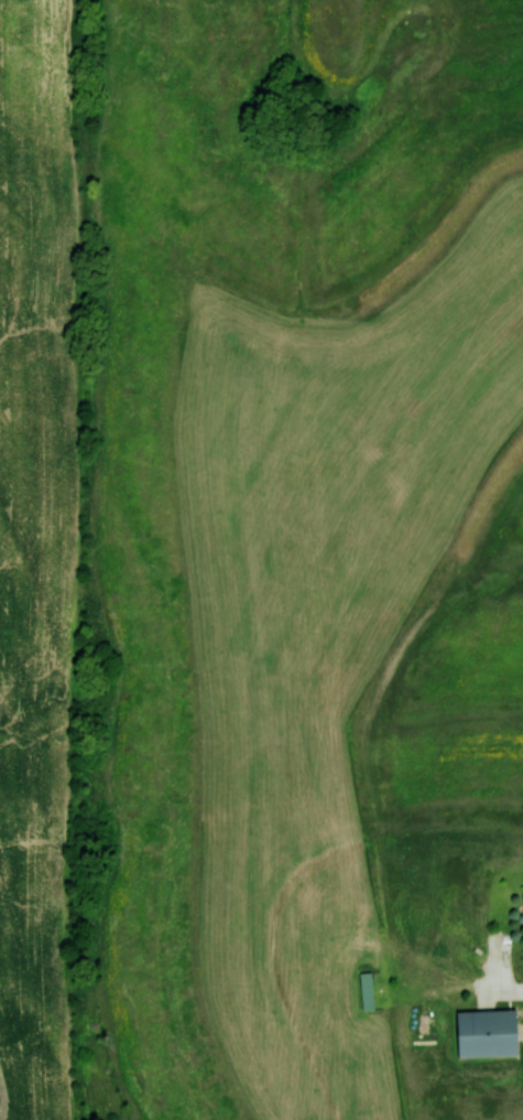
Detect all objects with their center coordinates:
building: (366, 990)
building: (484, 1033)

